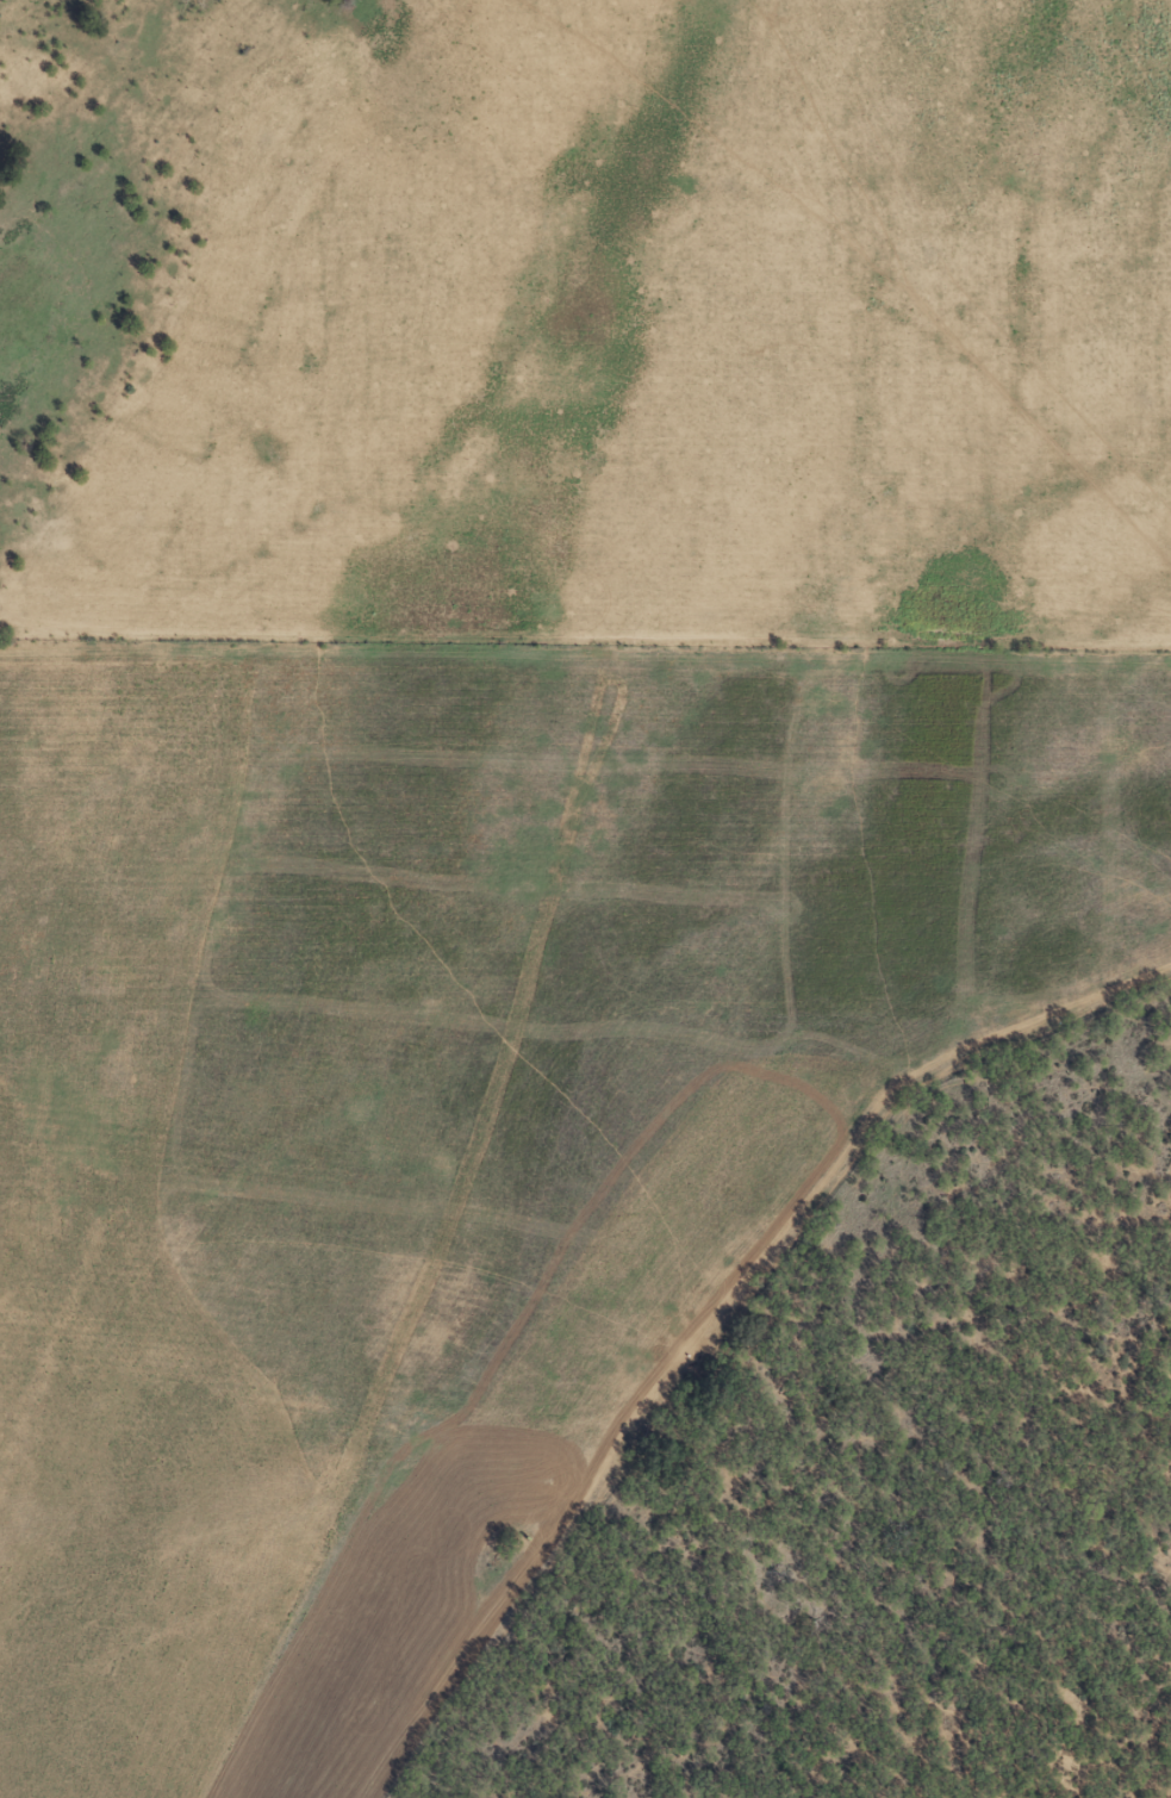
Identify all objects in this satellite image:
road: (1135, 79)

